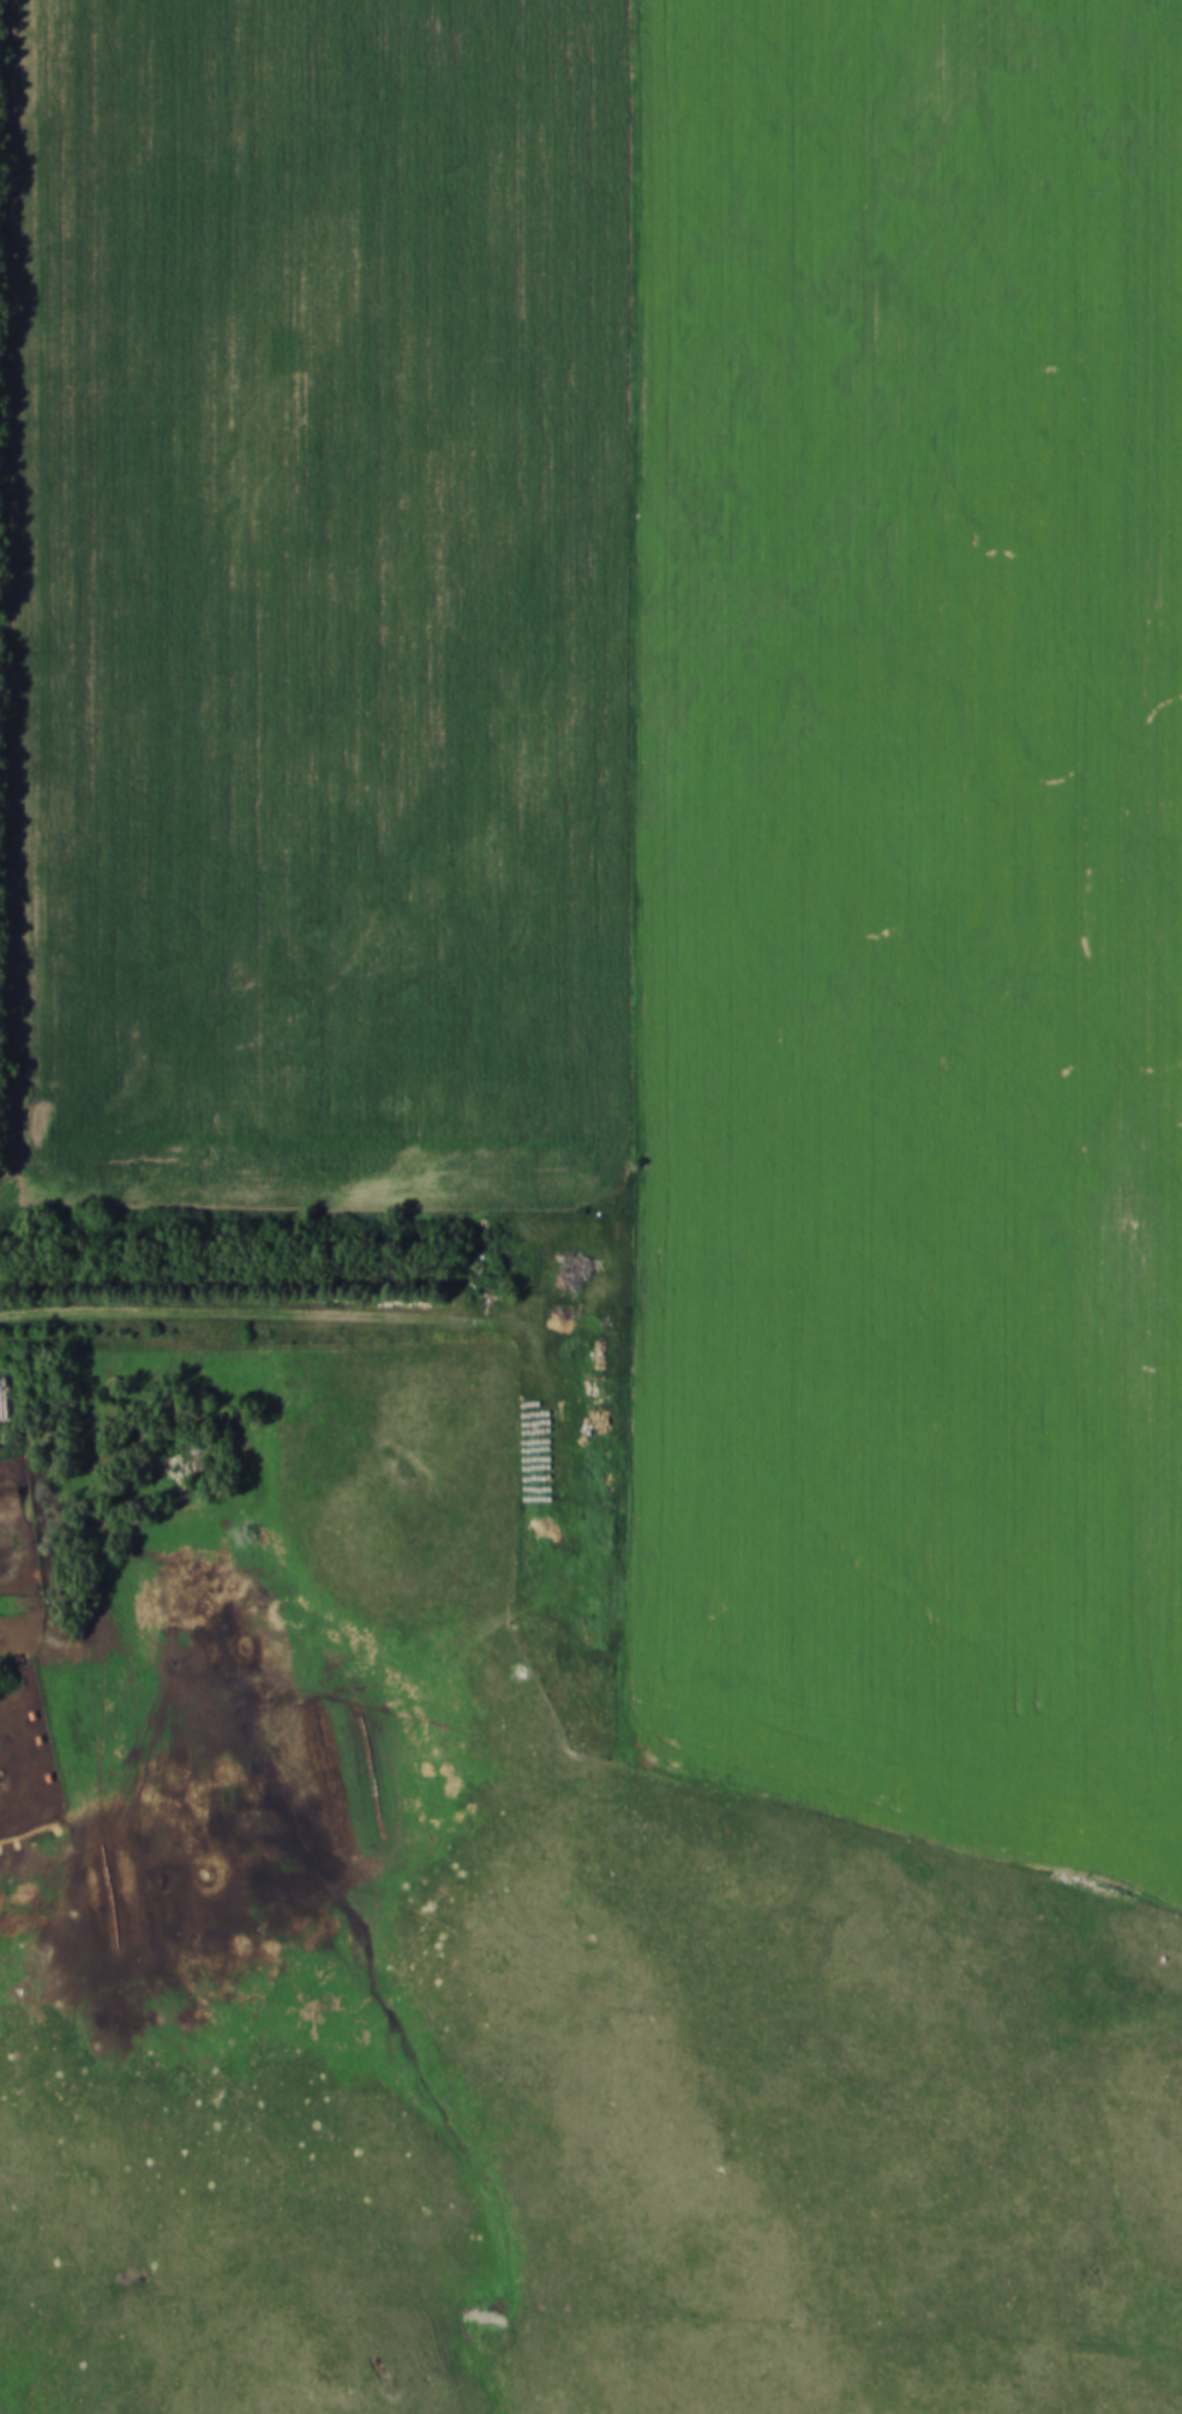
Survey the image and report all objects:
building: (594, 1553)
road: (78, 1646)

